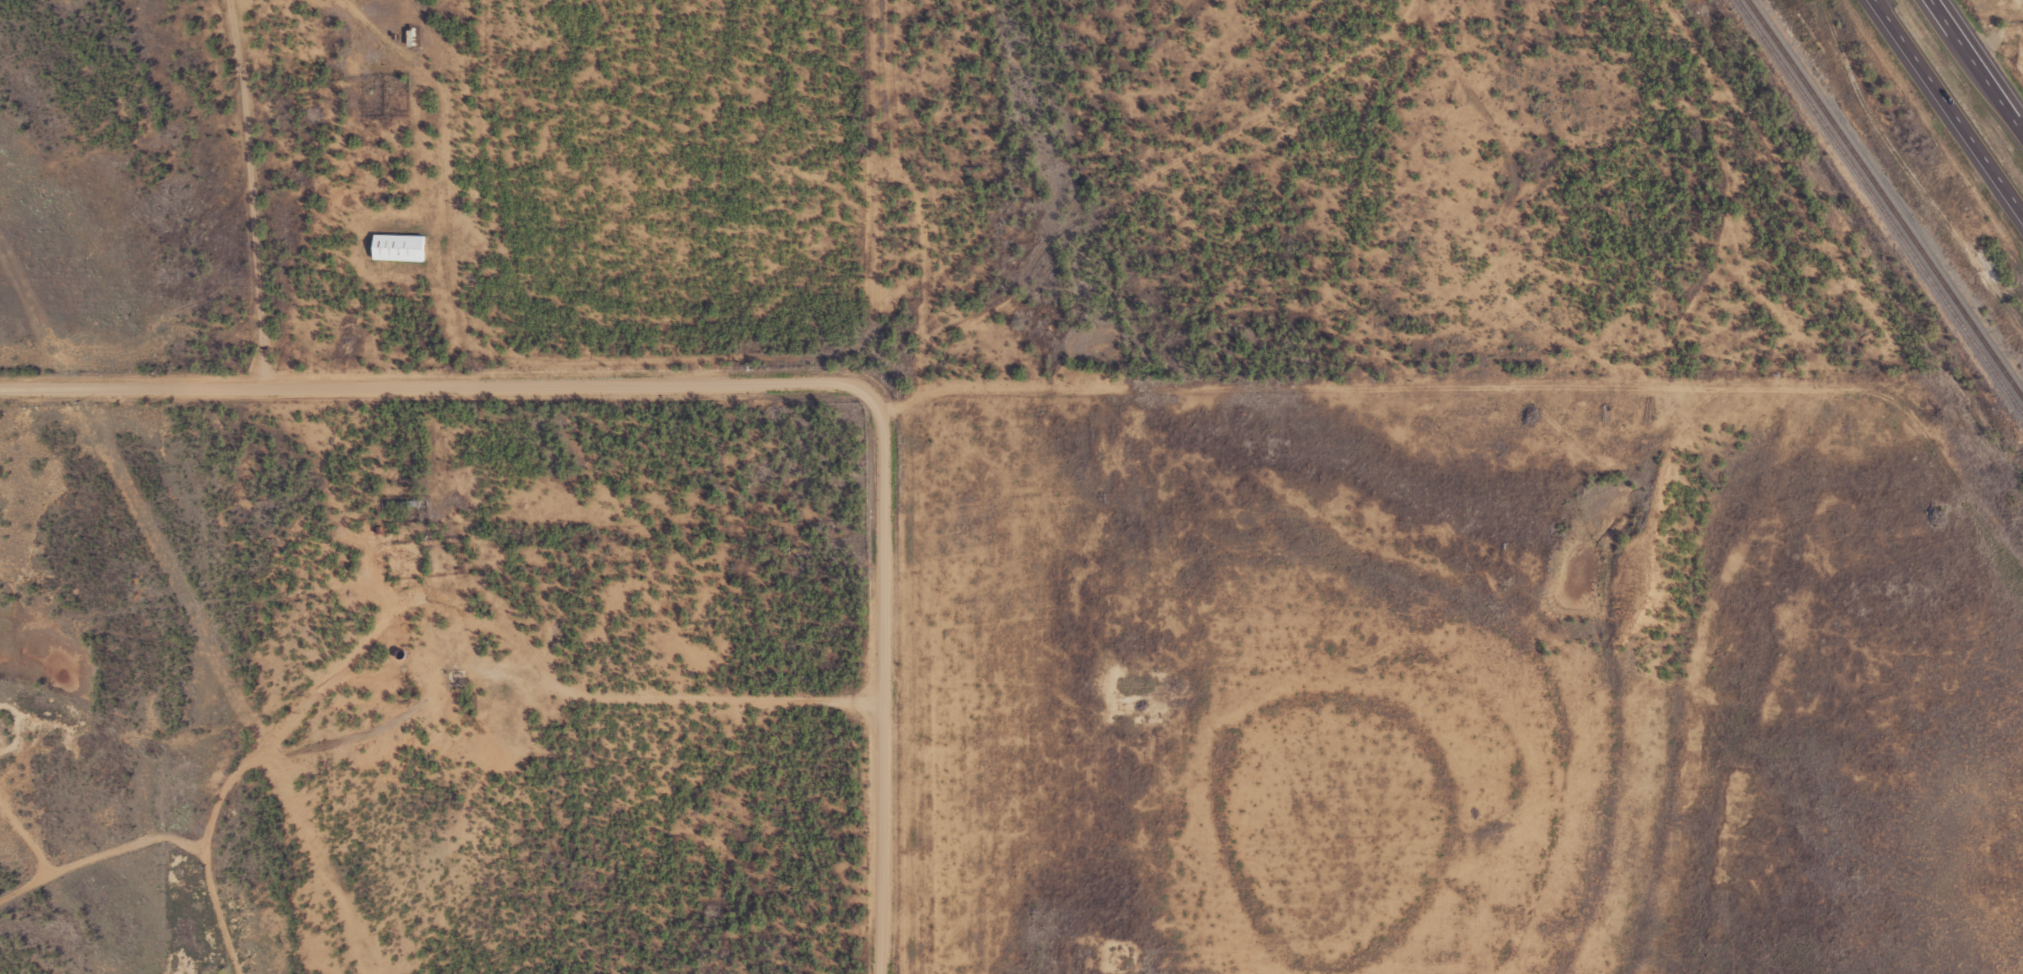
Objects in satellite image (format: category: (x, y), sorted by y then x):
building: (414, 37)
road: (1973, 70)
road: (443, 97)
road: (1951, 103)
road: (246, 189)
railway: (1886, 197)
railway: (1881, 204)
building: (399, 248)
road: (729, 382)
building: (457, 676)

